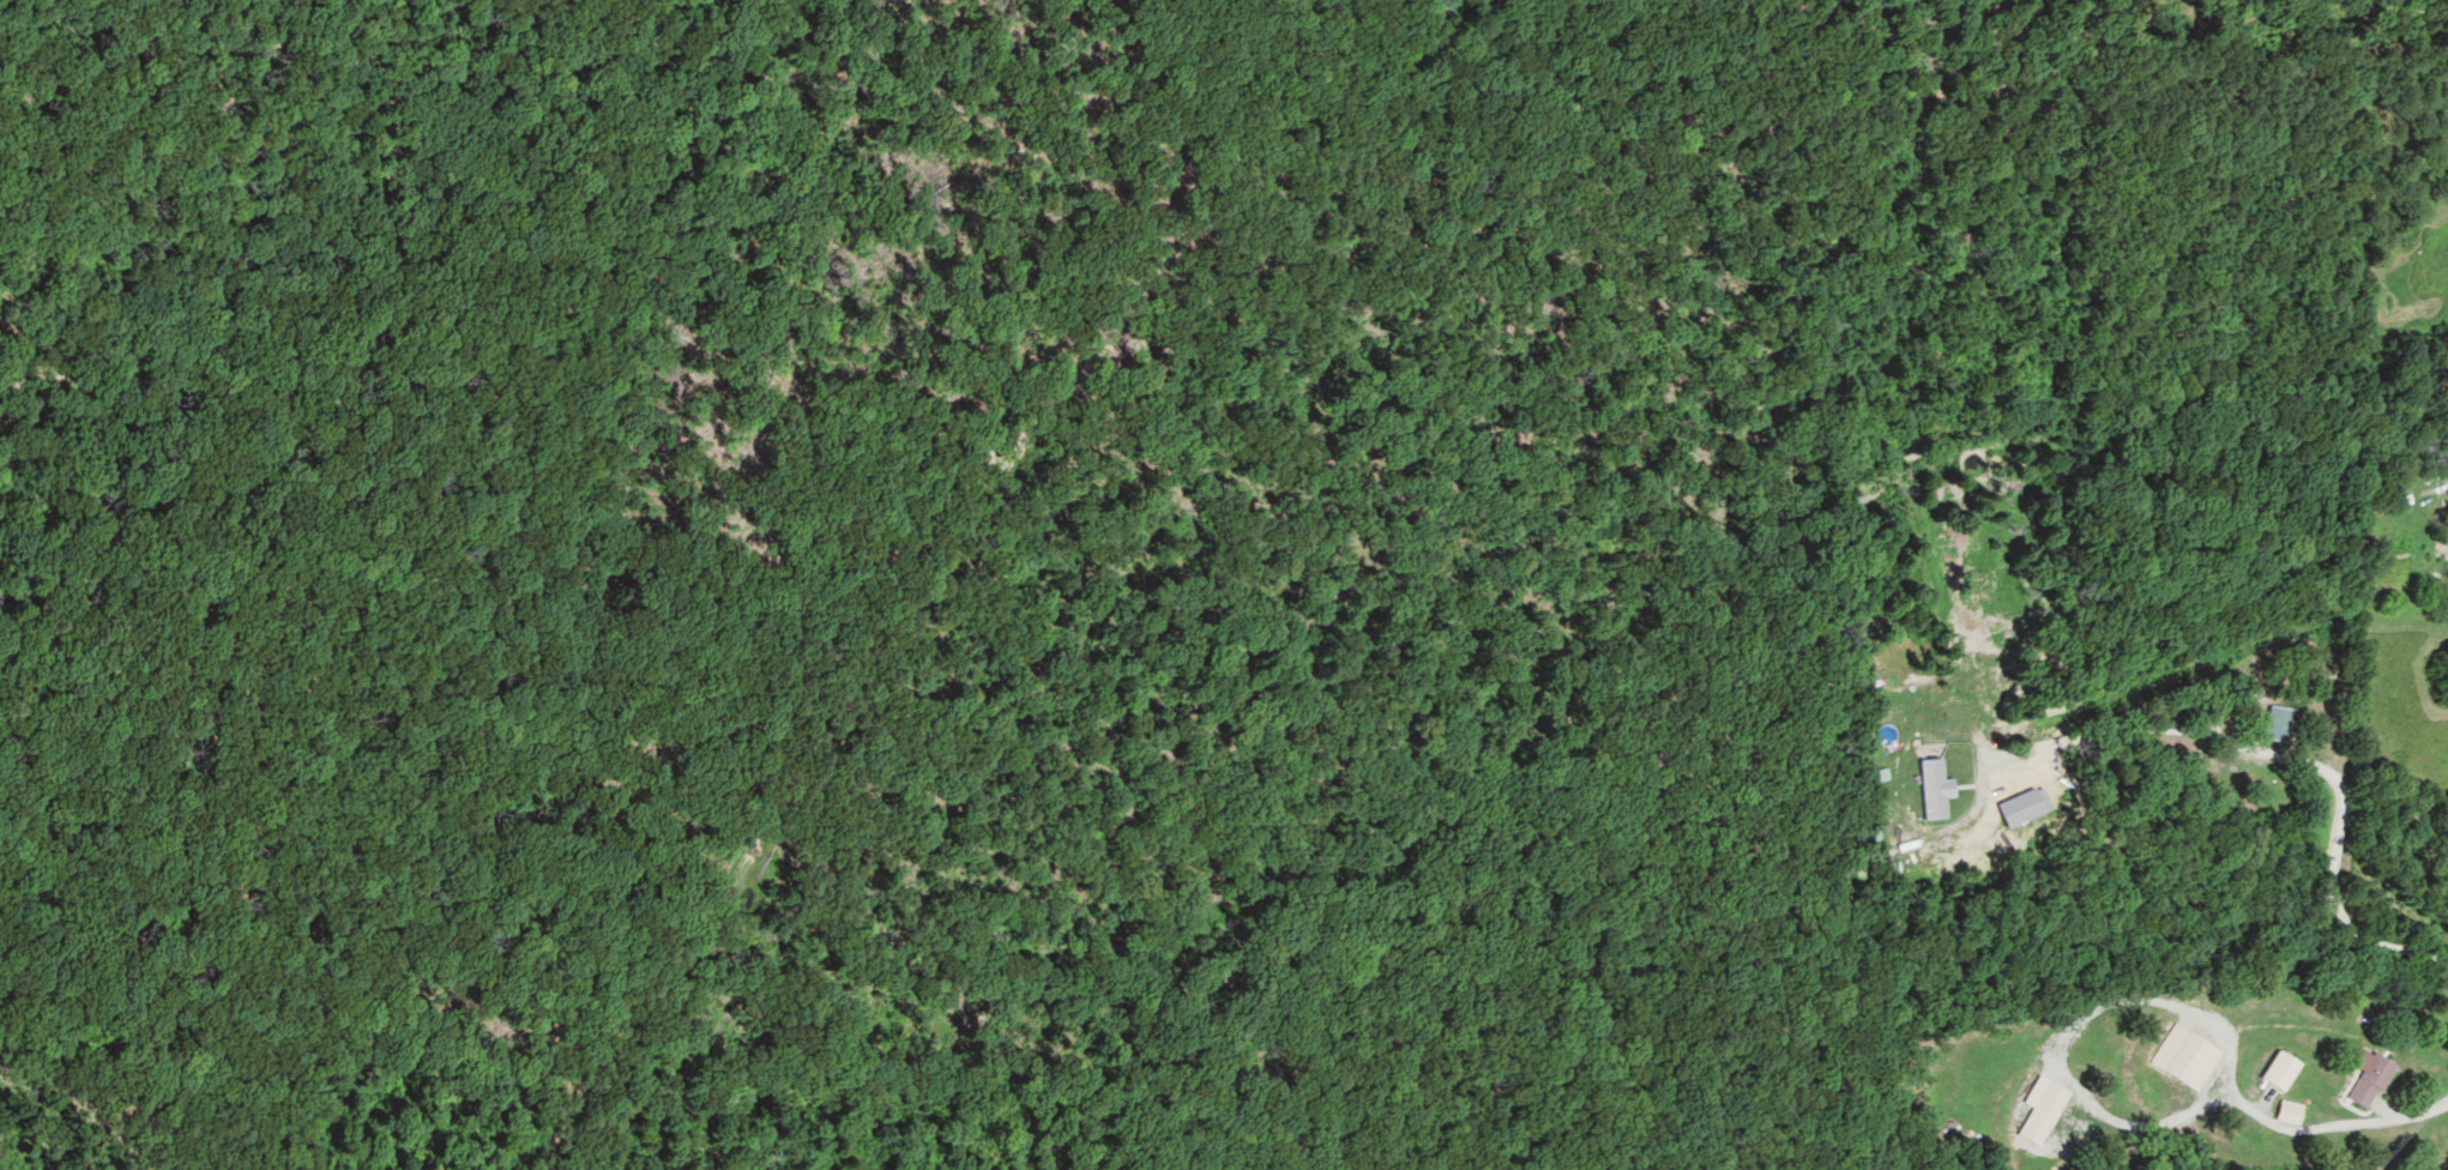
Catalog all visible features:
building: (2277, 725)
building: (1934, 789)
building: (2184, 1057)
building: (2278, 1072)
building: (2368, 1081)
building: (2040, 1114)

